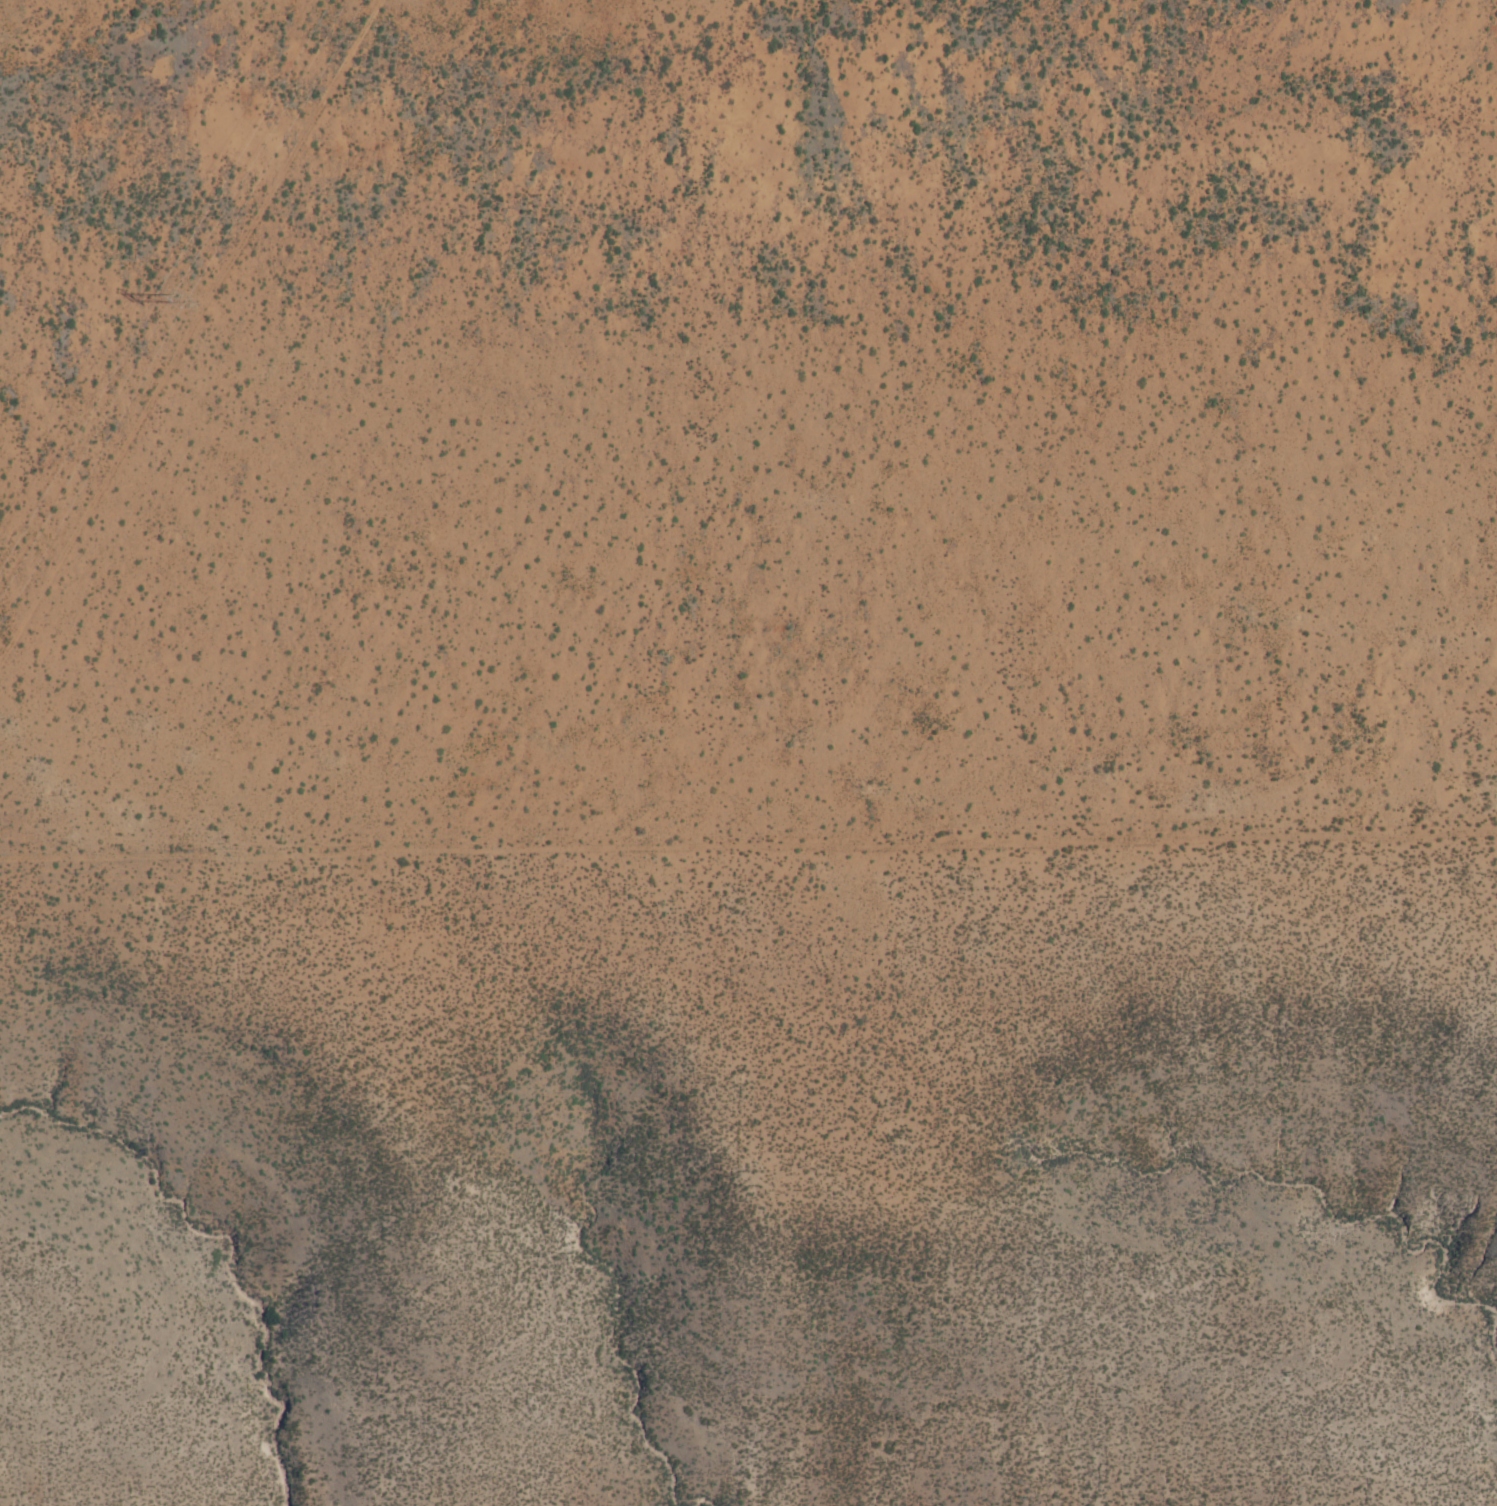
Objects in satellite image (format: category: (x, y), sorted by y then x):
power tower: (181, 297)
road: (191, 331)
road: (22, 860)

